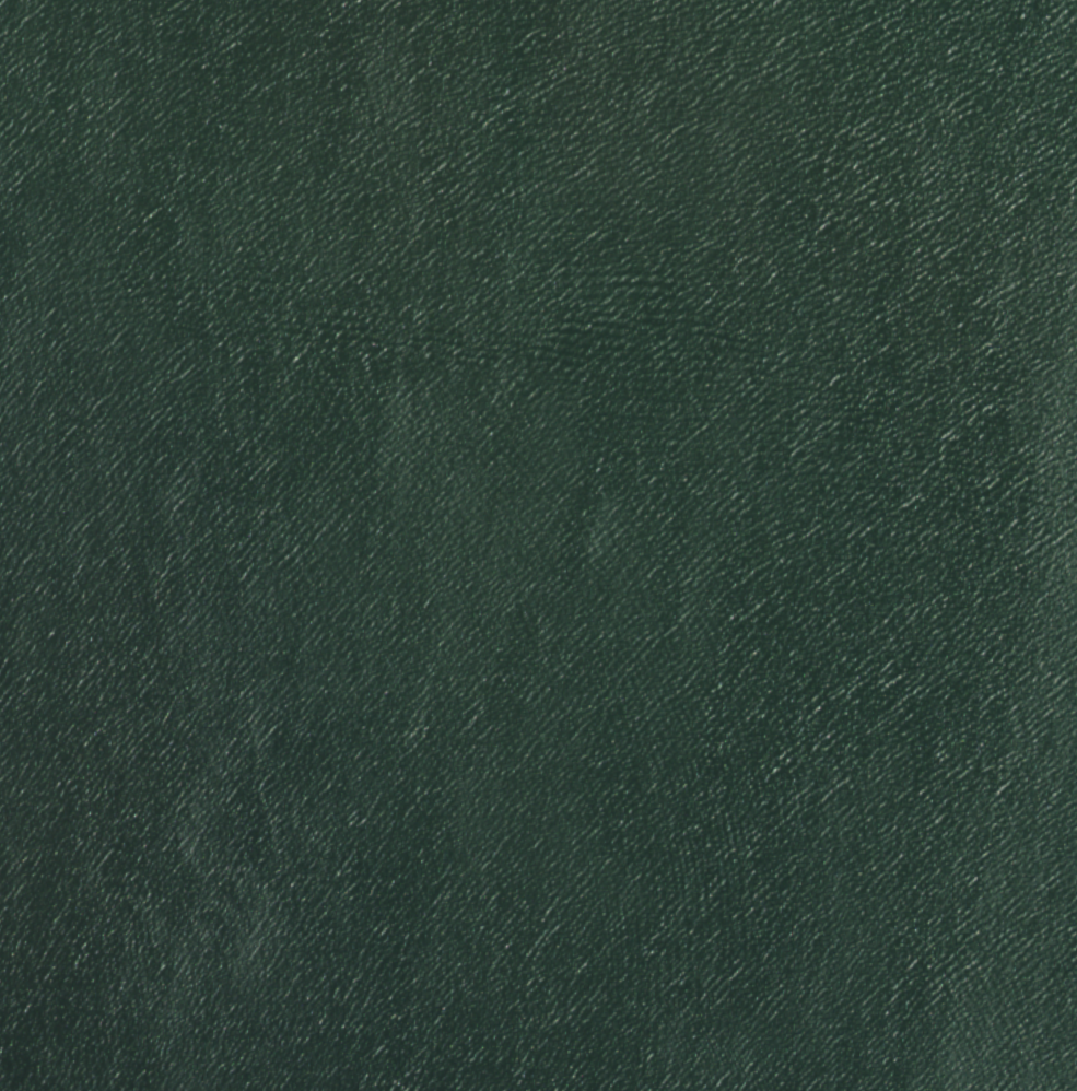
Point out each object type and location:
river: (716, 330)
park: (538, 545)

